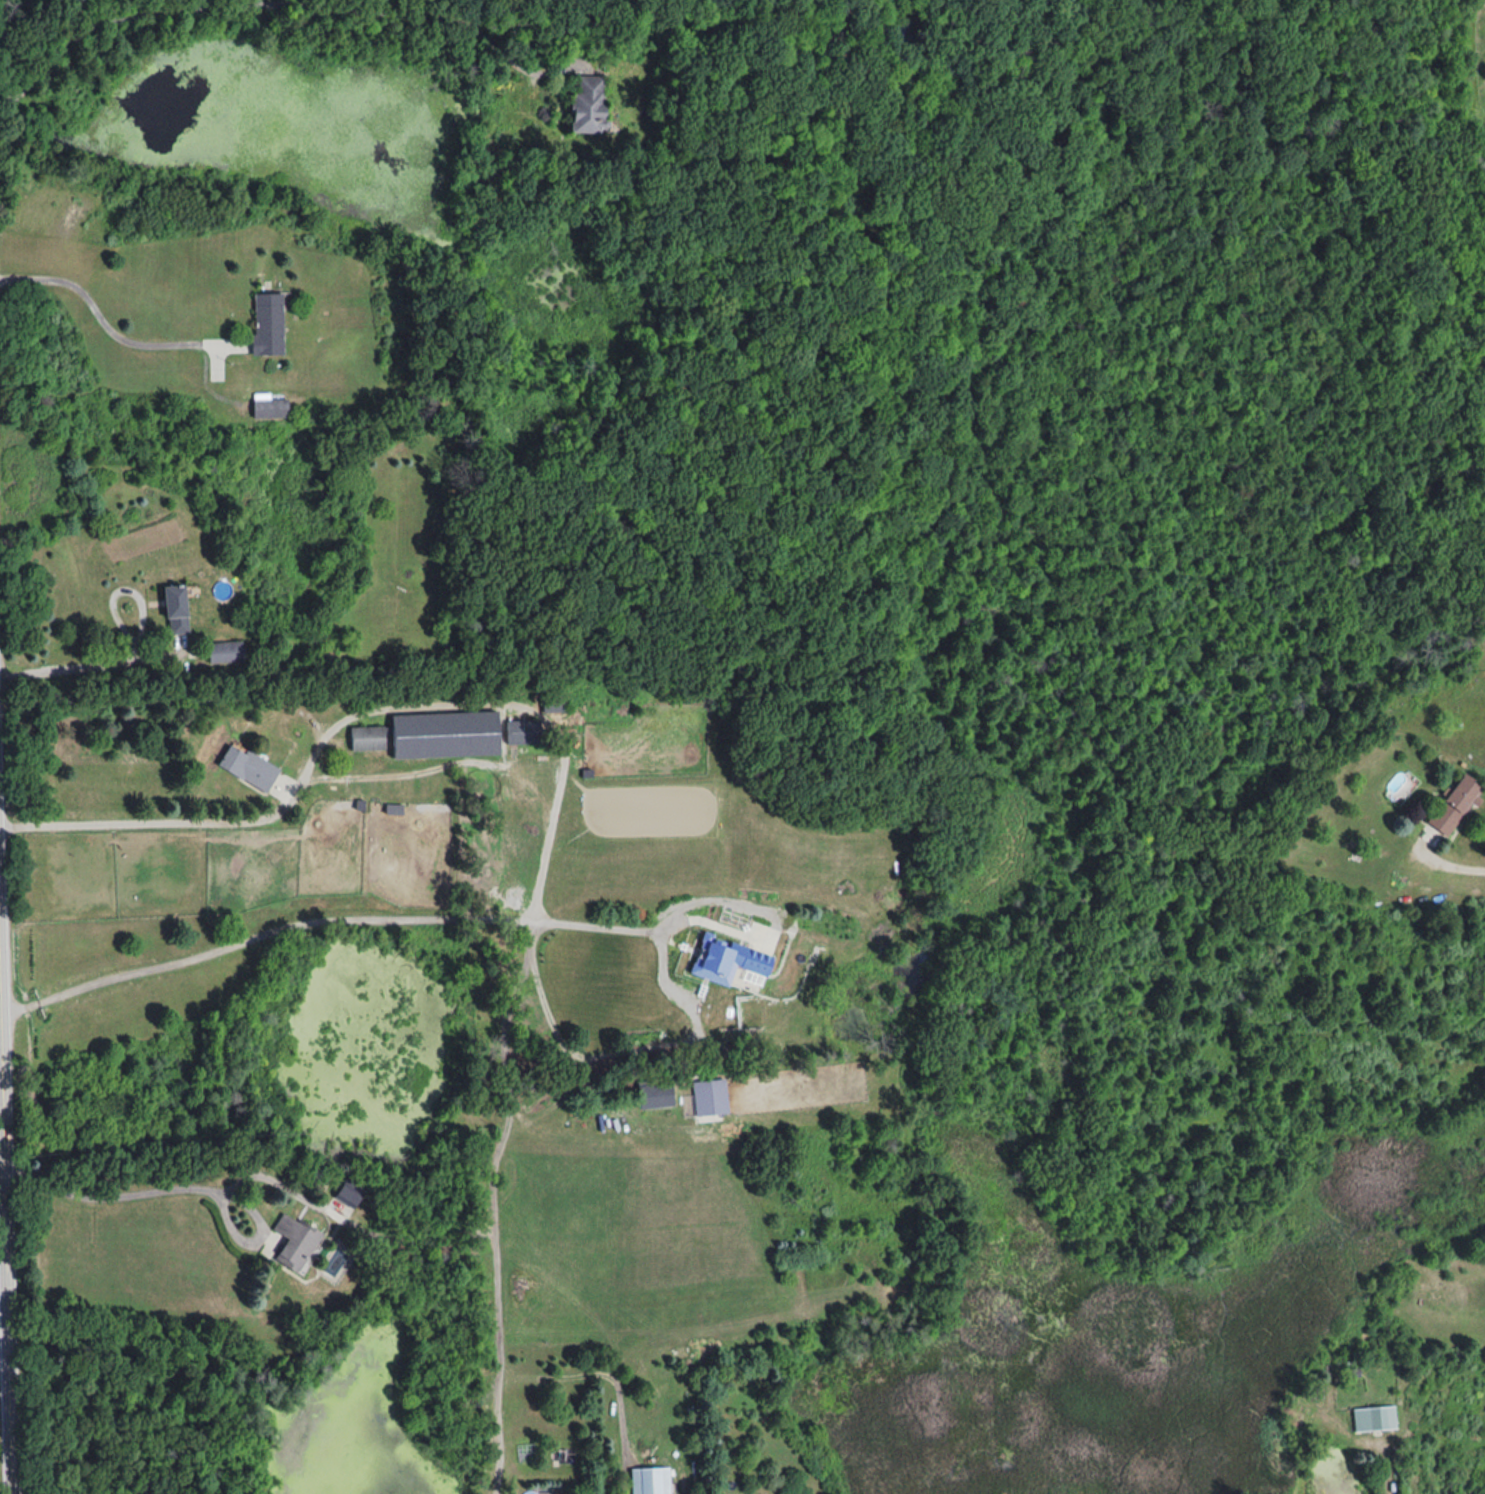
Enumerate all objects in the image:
road: (275, 2)
building: (591, 104)
road: (102, 319)
building: (270, 323)
building: (272, 407)
building: (178, 609)
building: (227, 651)
road: (89, 666)
building: (524, 731)
building: (447, 734)
building: (368, 738)
building: (250, 767)
road: (279, 804)
building: (1456, 804)
road: (1446, 855)
road: (322, 914)
road: (772, 918)
building: (714, 957)
road: (618, 1050)
building: (657, 1095)
road: (176, 1180)
building: (349, 1196)
road: (496, 1223)
building: (296, 1242)
road: (5, 1273)
road: (4, 1361)
road: (608, 1371)
building: (1371, 1417)
road: (1387, 1468)

